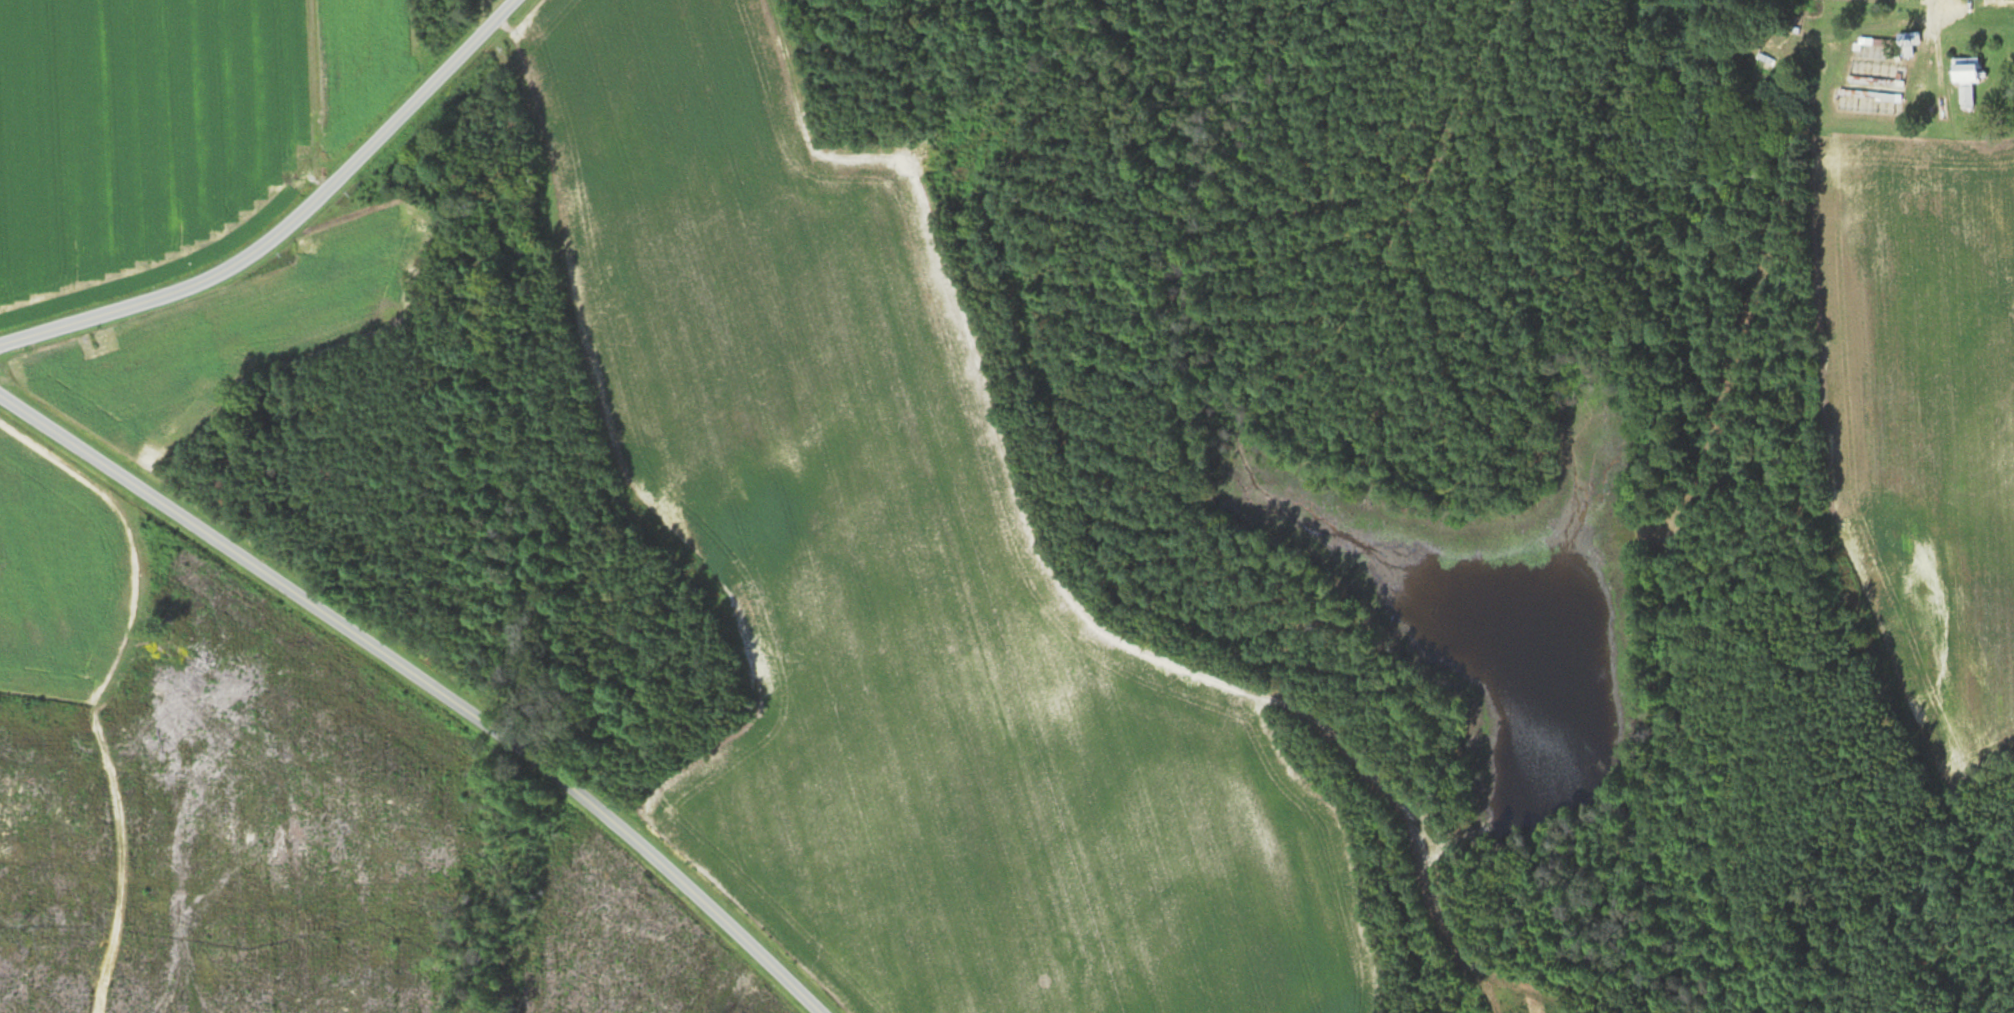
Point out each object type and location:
road: (348, 74)
building: (1961, 79)
road: (288, 223)
road: (428, 681)

